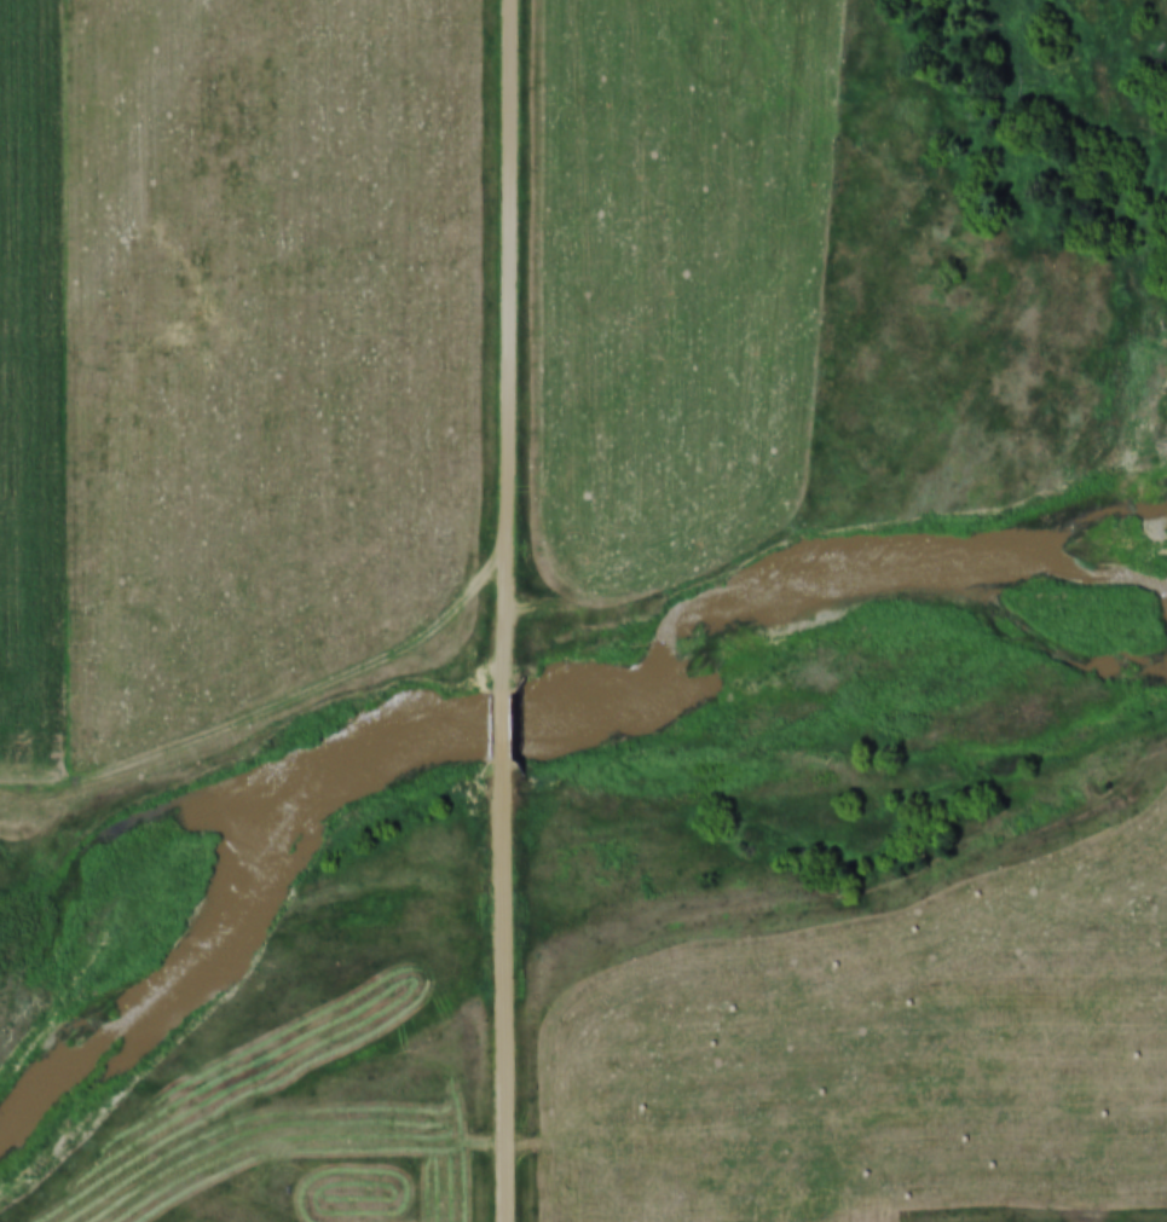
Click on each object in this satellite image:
road: (516, 340)
river: (518, 713)
road: (285, 718)
road: (515, 718)
road: (512, 988)
building: (313, 1204)

